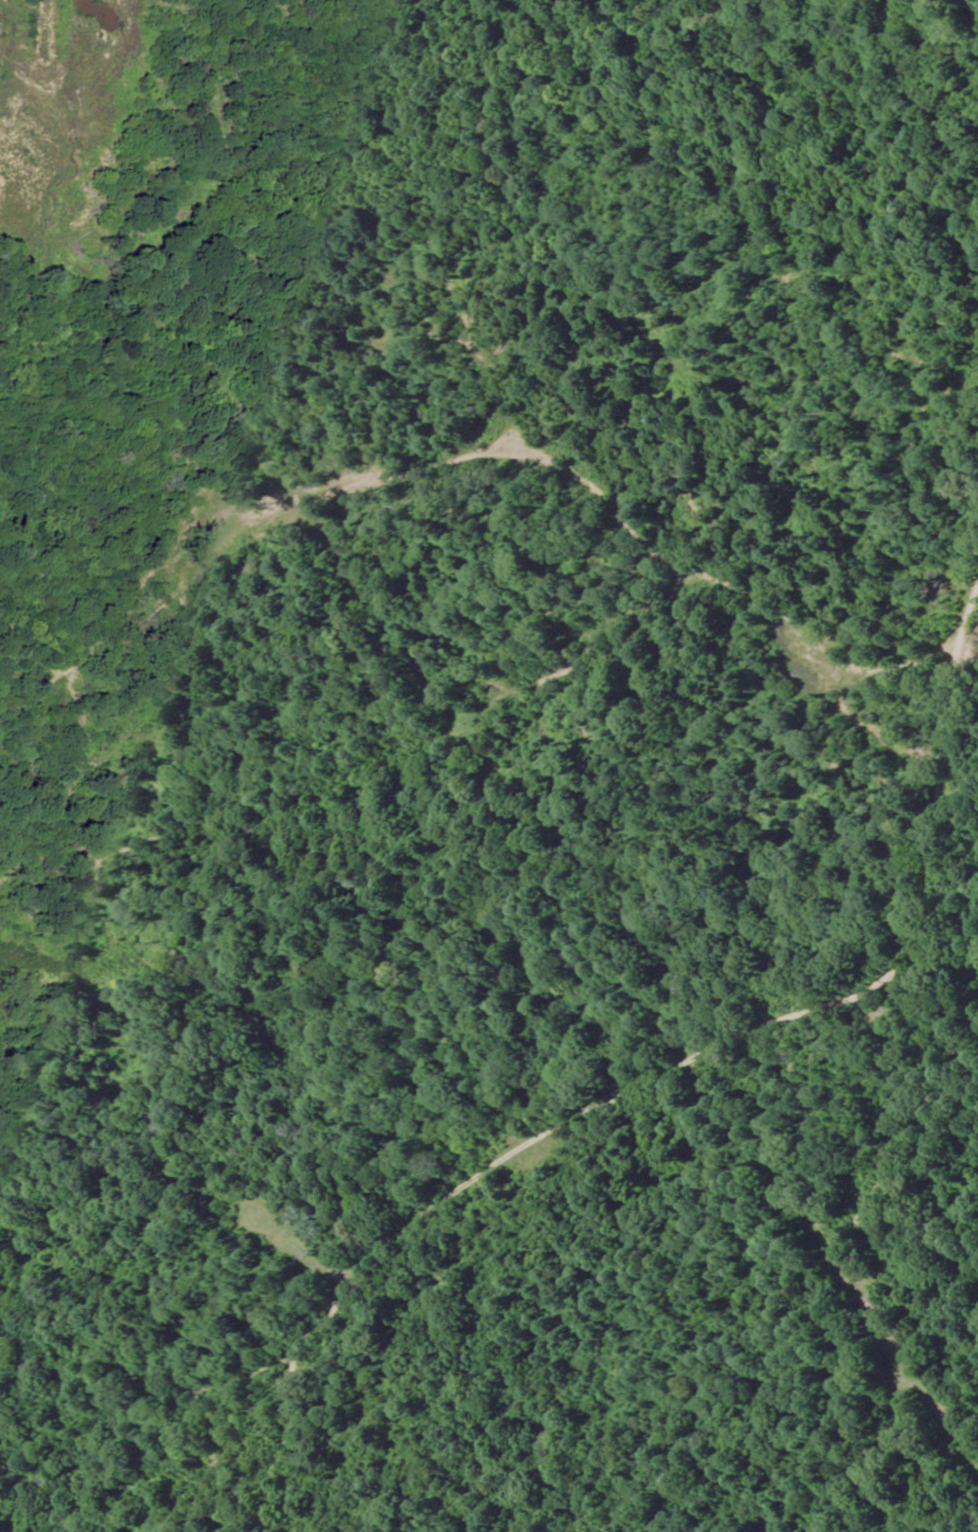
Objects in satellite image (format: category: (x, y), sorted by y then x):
road: (571, 1115)

